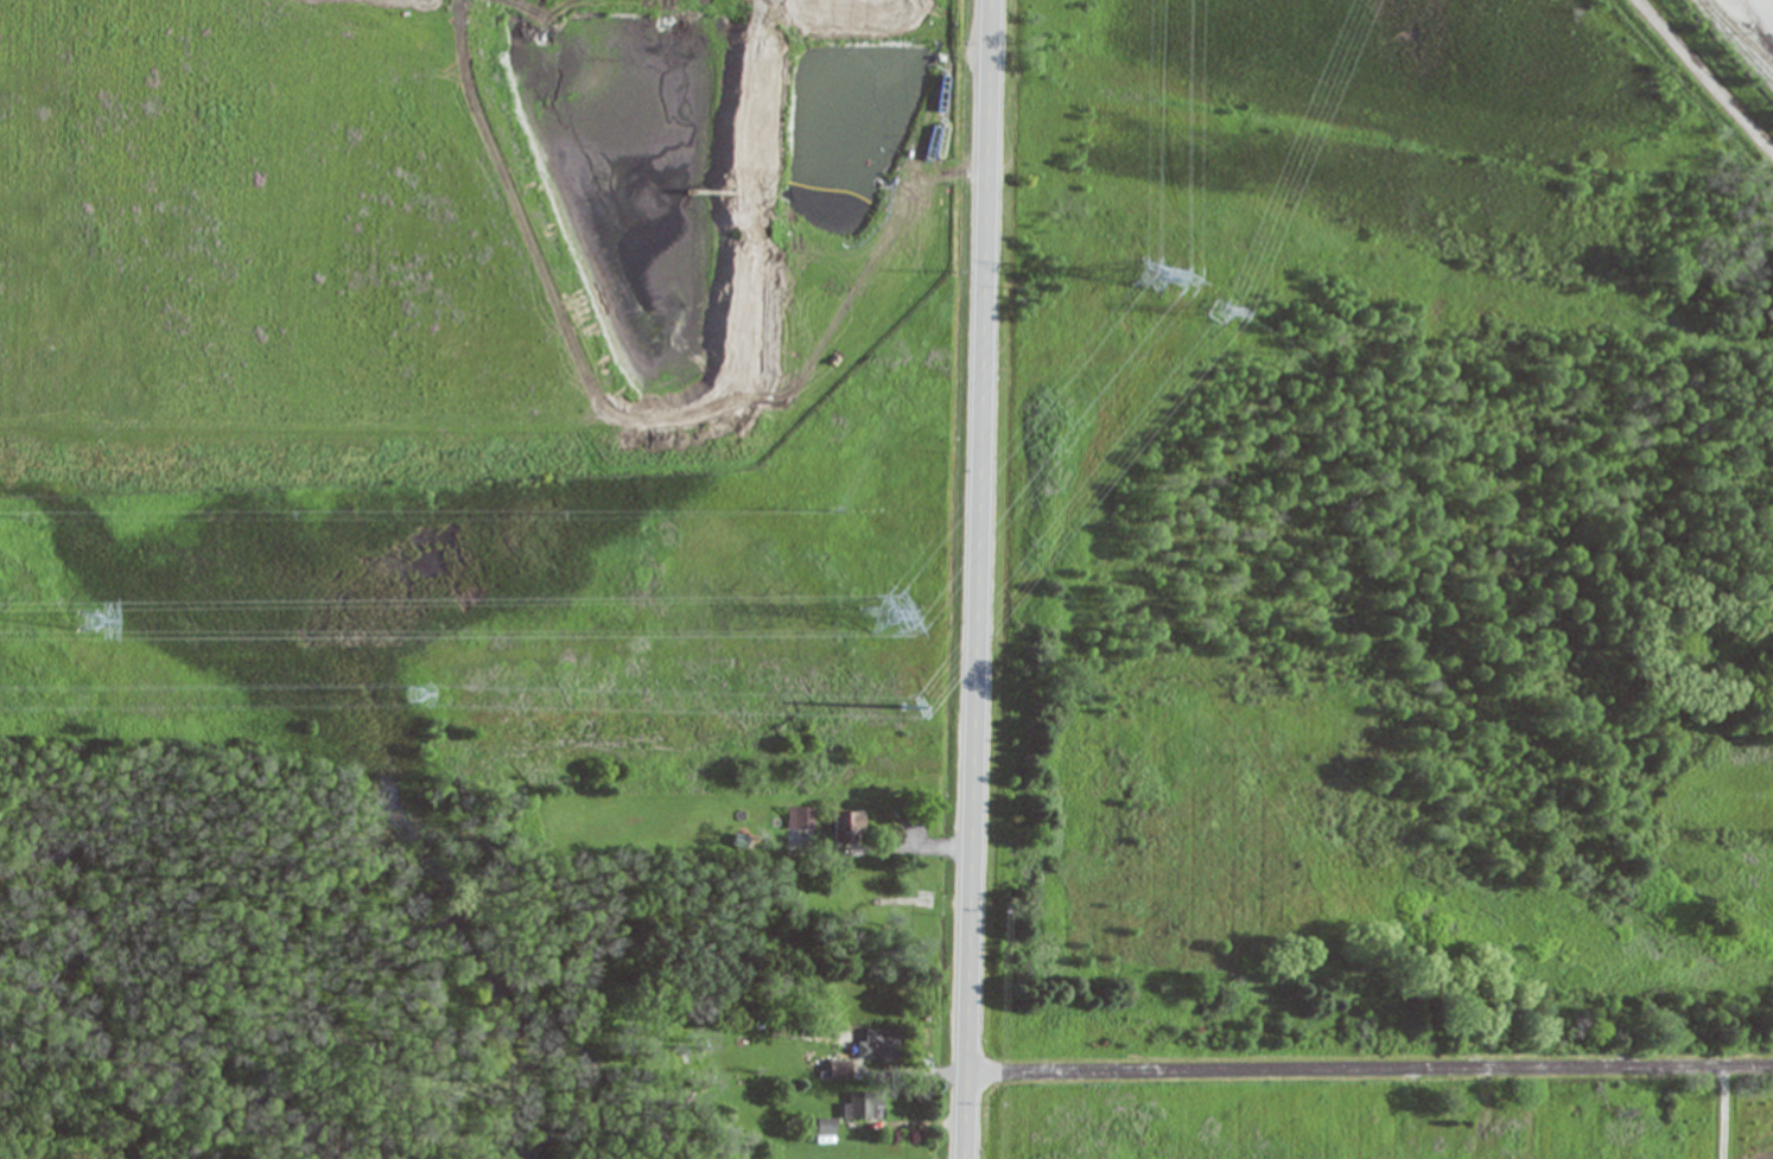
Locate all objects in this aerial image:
railway: (1754, 26)
railway: (1736, 34)
railway: (1735, 42)
power tower: (1164, 280)
power tower: (1221, 310)
power plant: (904, 548)
road: (979, 579)
power tower: (876, 619)
power tower: (89, 622)
power tower: (913, 689)
power tower: (413, 694)
building: (801, 817)
building: (849, 827)
building: (878, 1045)
building: (840, 1069)
road: (1370, 1070)
building: (860, 1104)

